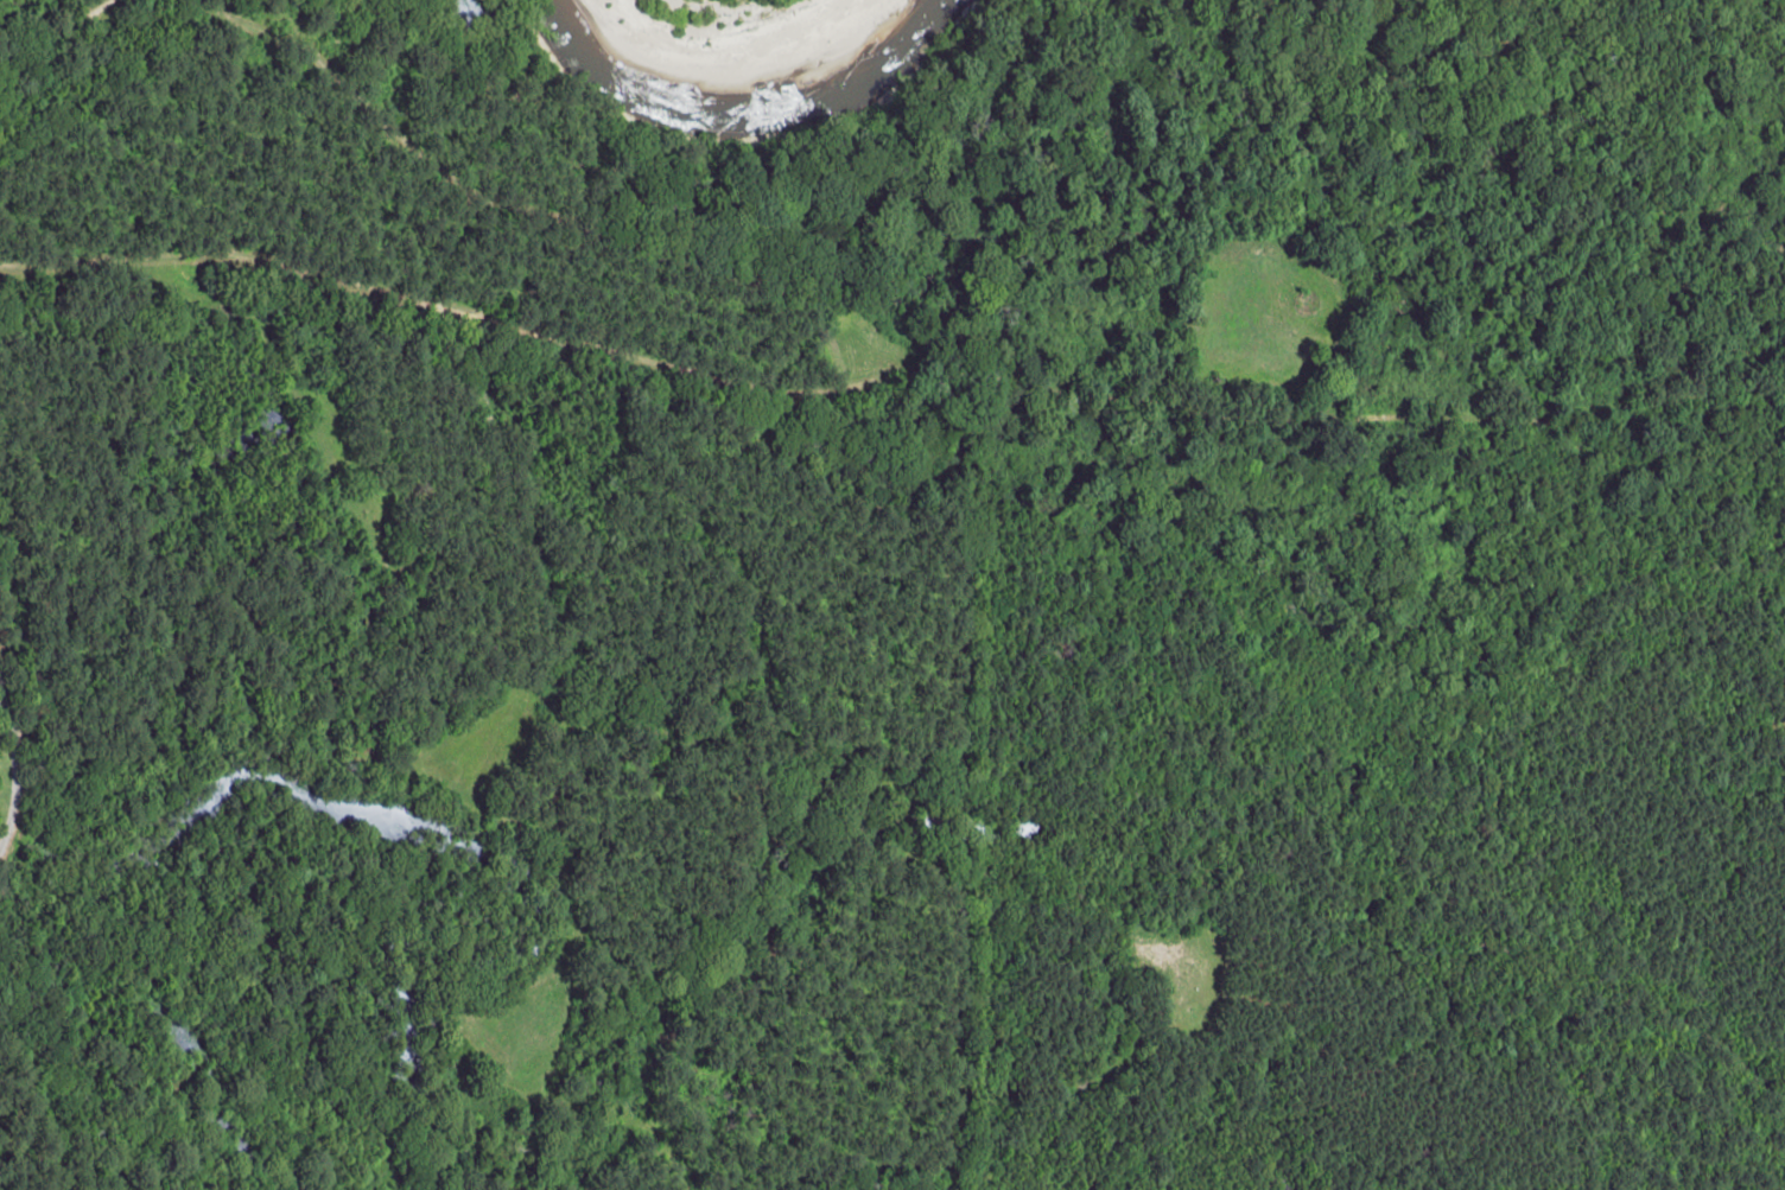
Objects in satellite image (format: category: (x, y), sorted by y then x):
road: (61, 61)
road: (11, 840)

